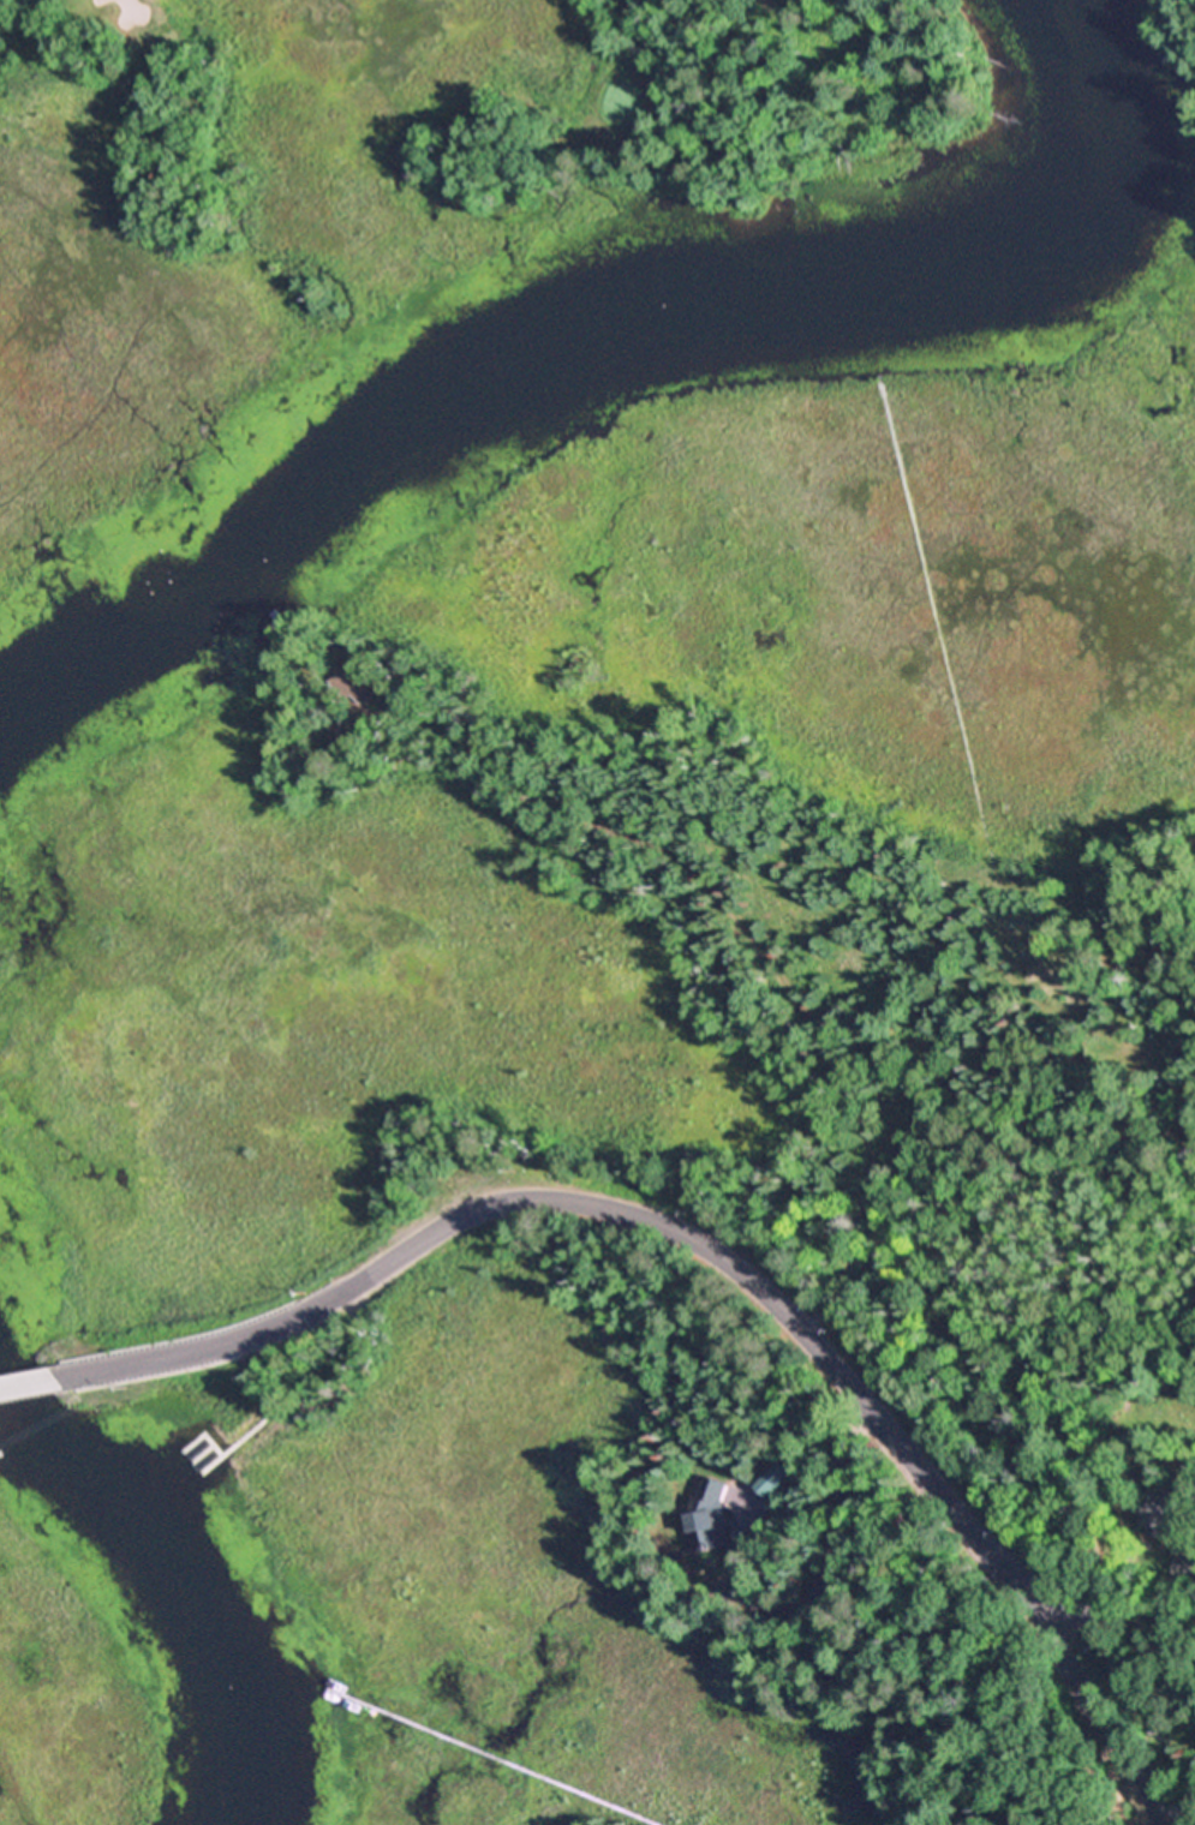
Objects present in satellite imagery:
park: (395, 162)
river: (626, 324)
park: (818, 388)
building: (358, 686)
building: (343, 736)
road: (783, 932)
road: (601, 1204)
road: (29, 1382)
building: (775, 1478)
building: (710, 1516)
building: (1169, 1520)
river: (177, 1593)
road: (1109, 1608)
road: (1101, 1706)

